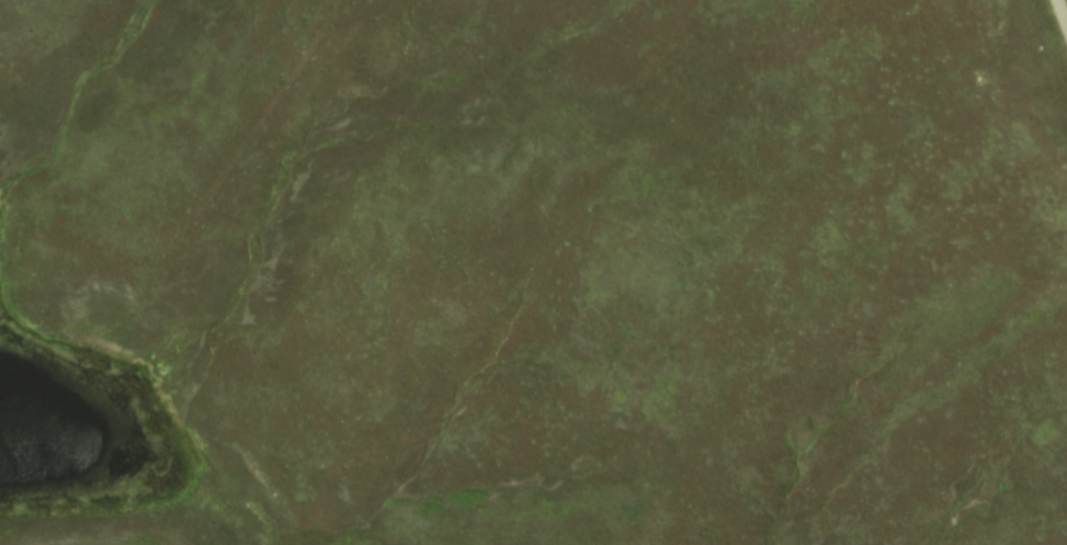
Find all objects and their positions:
road: (1058, 19)

